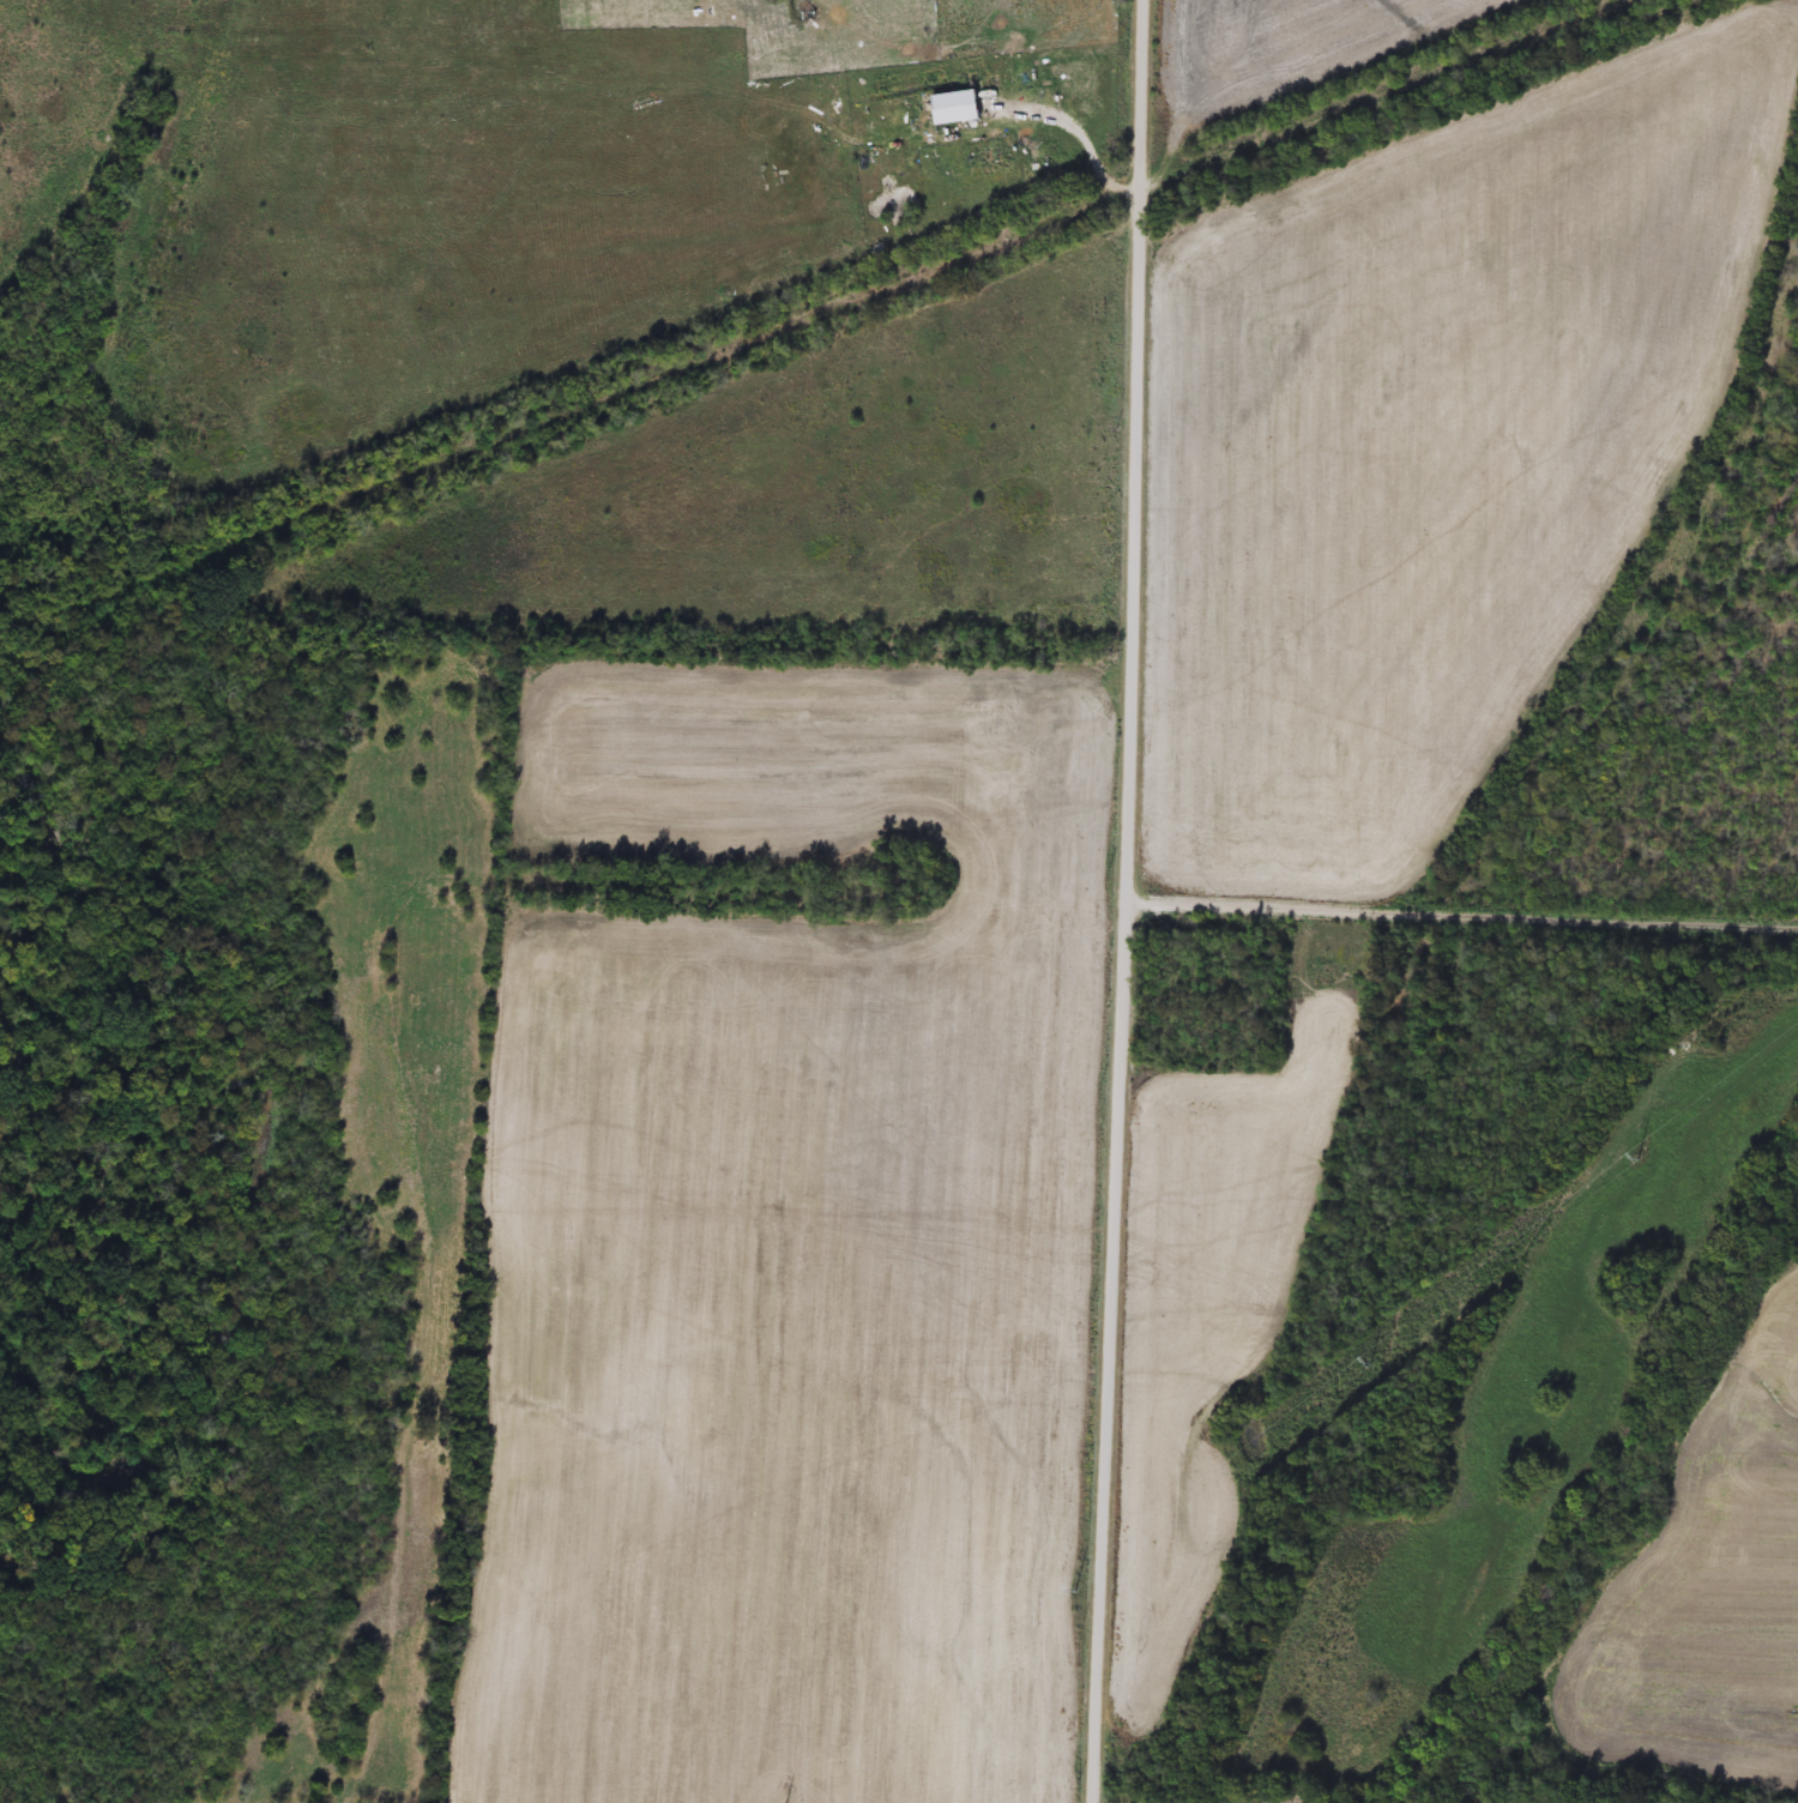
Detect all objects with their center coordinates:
building: (963, 110)
road: (1096, 145)
road: (1122, 901)
road: (1460, 905)
power tower: (1664, 1160)
power tower: (1393, 1365)
power tower: (1088, 1594)

